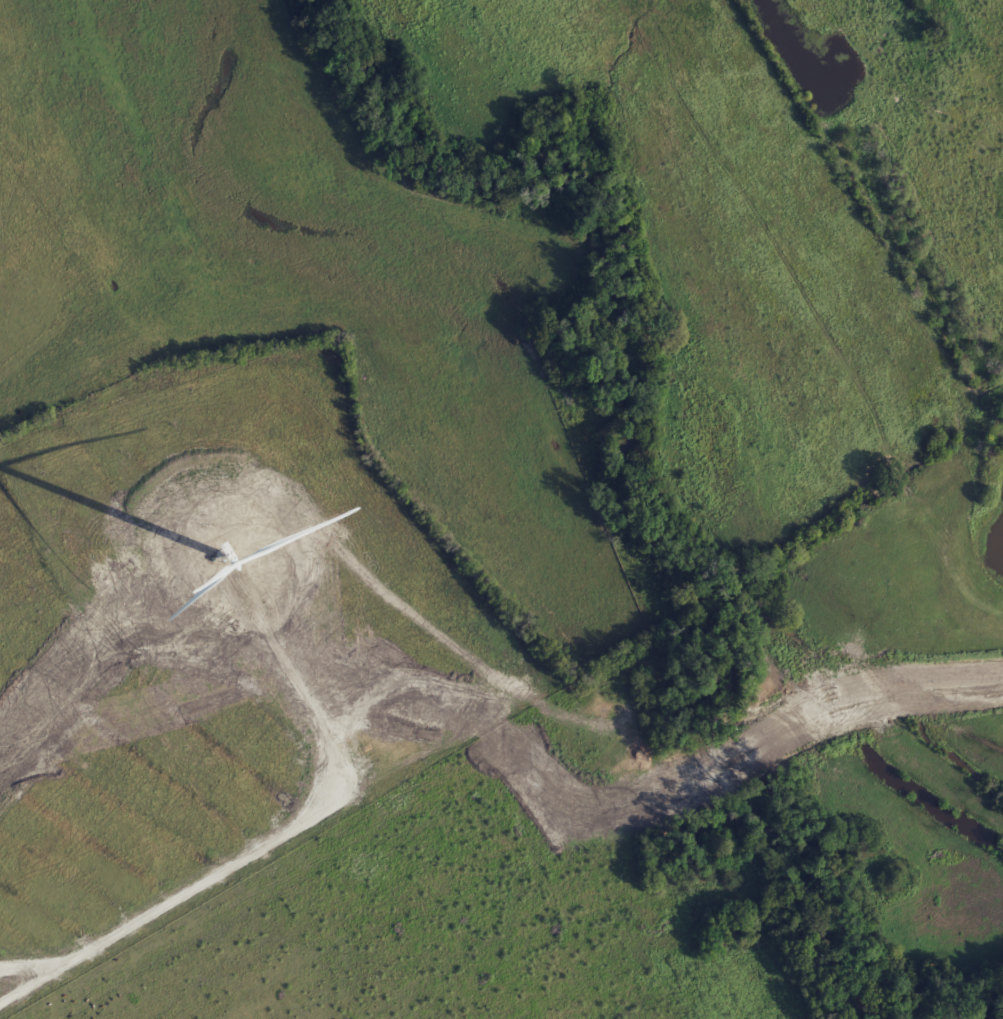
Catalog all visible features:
wind turbine: (224, 542)
road: (280, 839)

